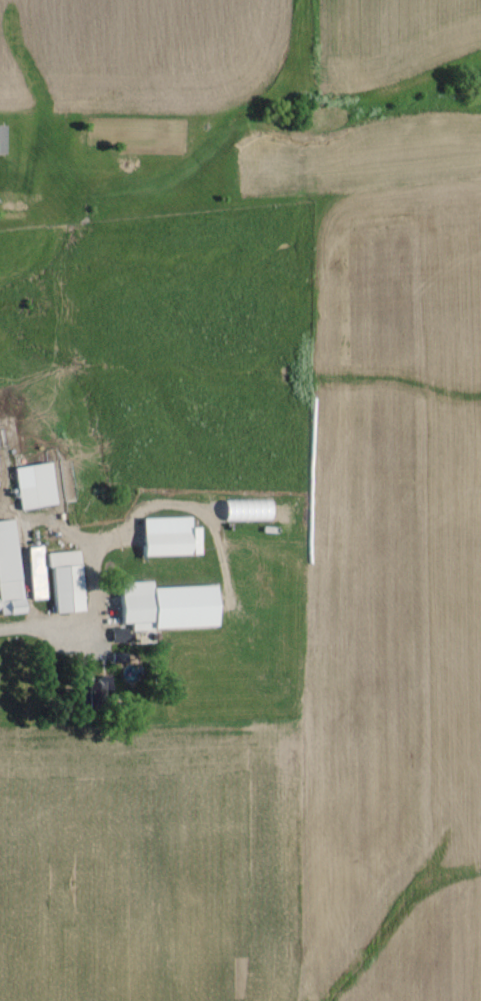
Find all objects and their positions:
building: (30, 485)
building: (244, 510)
building: (165, 536)
building: (55, 579)
building: (164, 605)
road: (45, 636)

